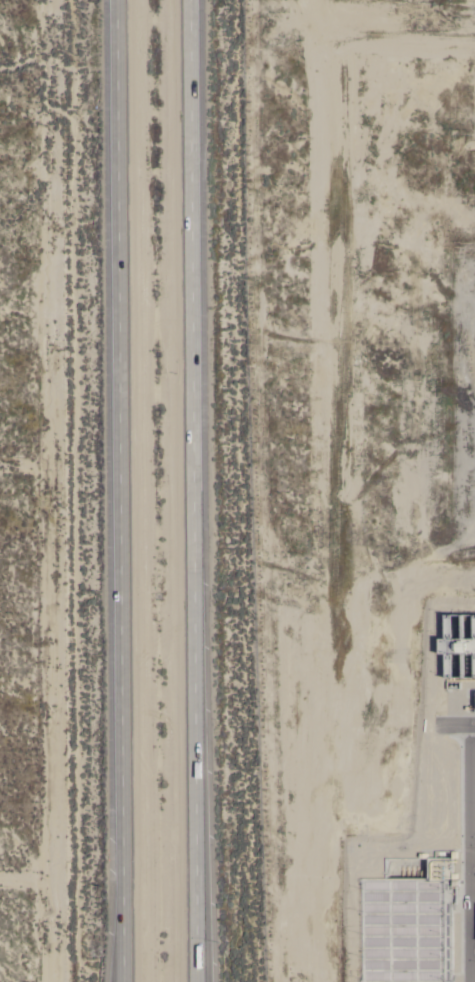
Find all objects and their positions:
wastewater plant: (361, 482)
road: (192, 490)
road: (119, 491)
building: (460, 645)
road: (451, 725)
road: (467, 853)
road: (120, 961)
road: (196, 981)
road: (196, 981)

